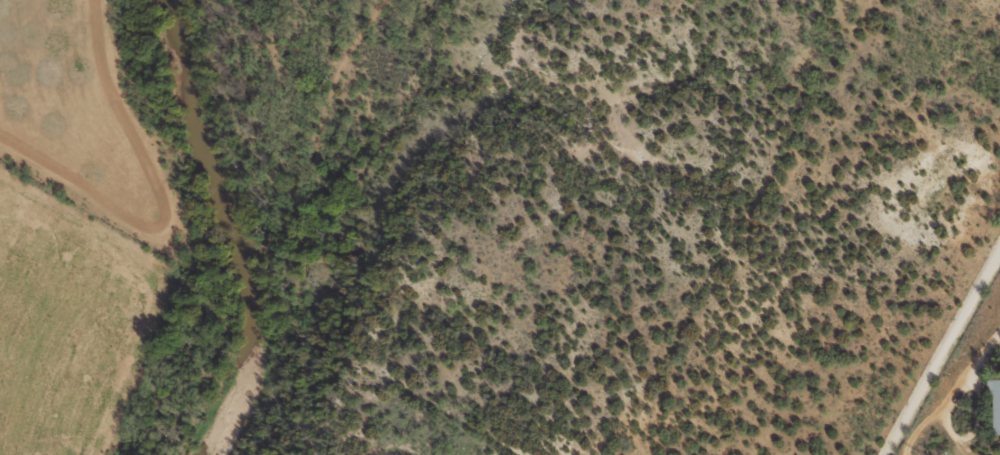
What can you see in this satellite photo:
road: (788, 222)
road: (950, 368)
building: (995, 401)

